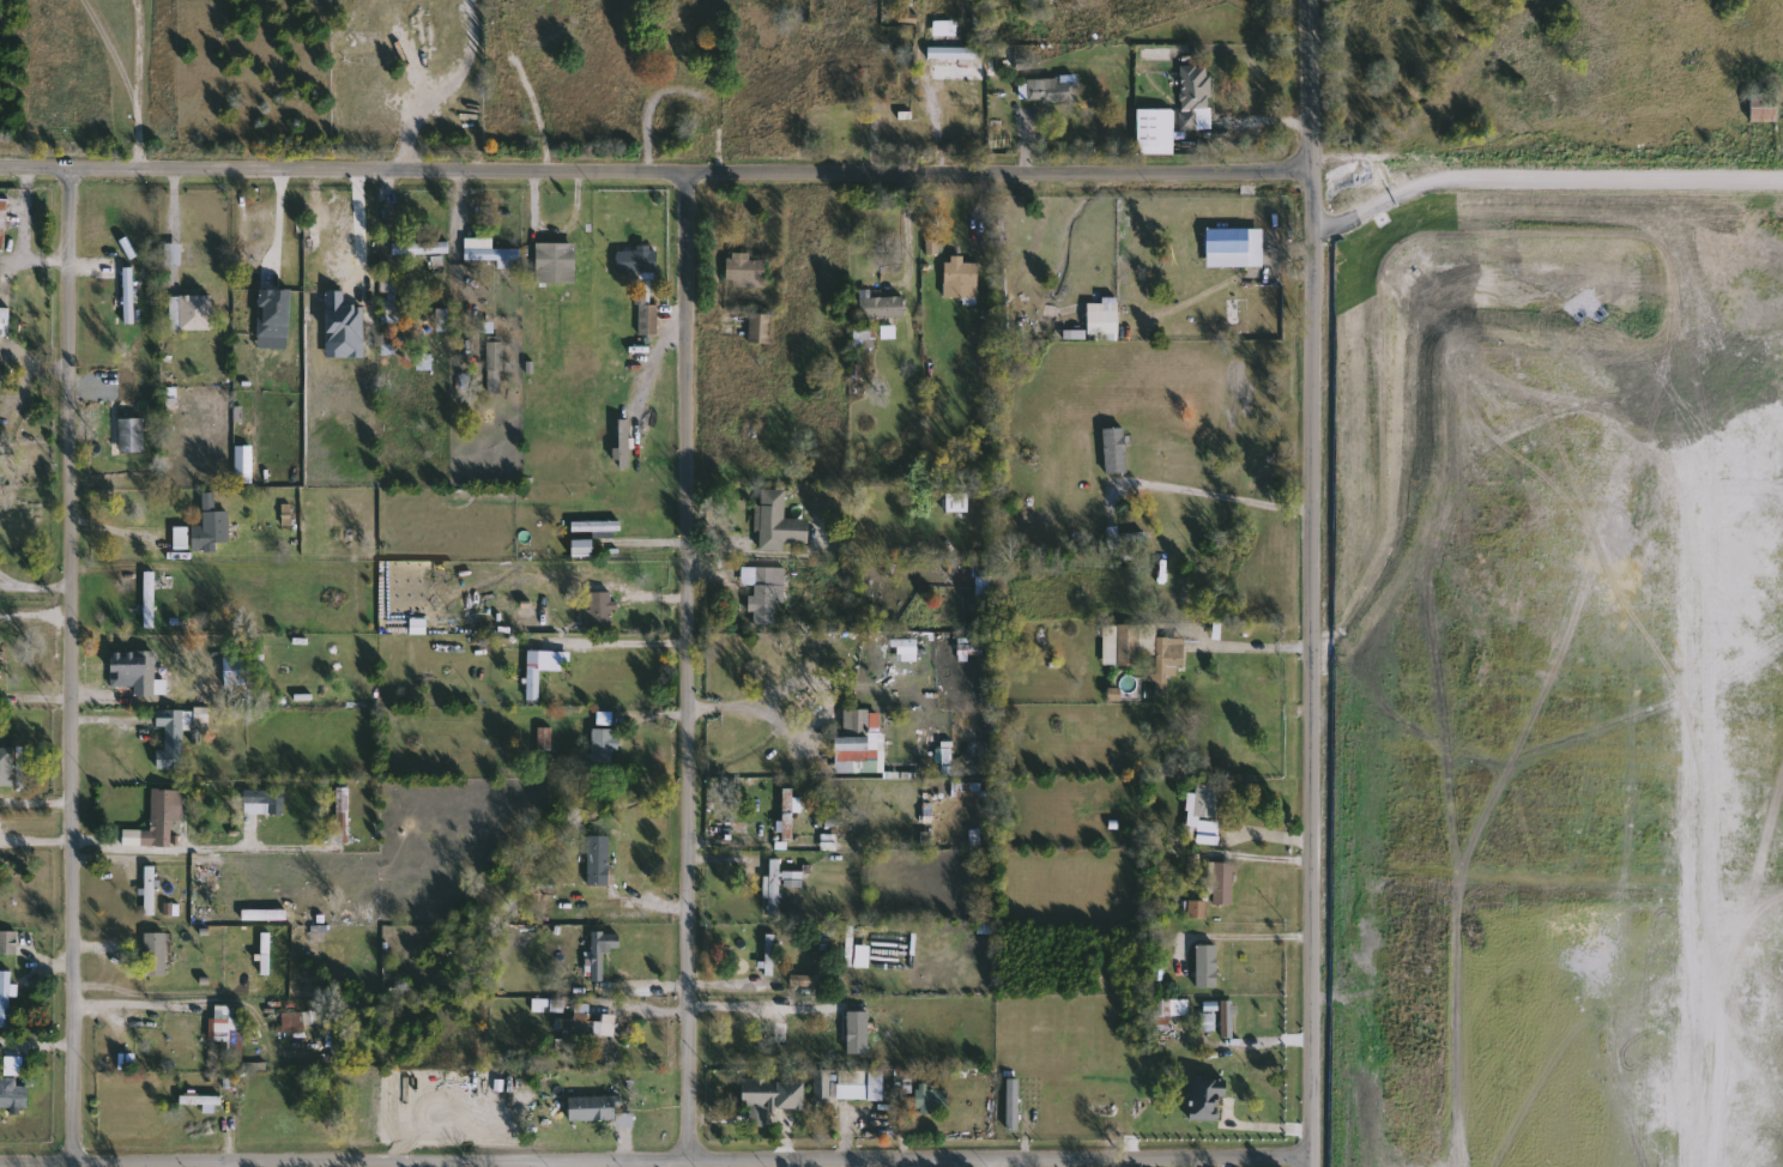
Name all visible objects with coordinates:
building: (685, 29)
building: (947, 29)
building: (545, 32)
building: (957, 54)
building: (889, 59)
building: (852, 80)
road: (428, 83)
building: (1052, 91)
building: (1196, 97)
building: (1765, 107)
road: (1269, 123)
building: (1154, 129)
road: (654, 168)
road: (1543, 175)
road: (393, 196)
road: (244, 210)
road: (24, 211)
road: (1256, 213)
road: (357, 224)
building: (4, 225)
road: (552, 226)
road: (905, 230)
road: (717, 244)
building: (1217, 244)
building: (422, 248)
building: (490, 250)
road: (984, 254)
building: (192, 256)
building: (272, 259)
building: (349, 259)
building: (639, 261)
building: (557, 264)
building: (745, 271)
building: (961, 279)
road: (1229, 280)
building: (129, 296)
building: (882, 308)
building: (394, 312)
building: (649, 319)
building: (4, 320)
building: (339, 322)
building: (1104, 322)
building: (443, 327)
building: (761, 328)
building: (496, 365)
road: (36, 369)
building: (133, 435)
building: (623, 448)
building: (1116, 451)
road: (1217, 500)
building: (959, 502)
building: (778, 524)
building: (597, 527)
building: (205, 530)
road: (117, 534)
building: (581, 549)
road: (768, 557)
road: (135, 568)
road: (1307, 582)
road: (34, 587)
building: (986, 587)
building: (766, 592)
building: (145, 599)
building: (151, 600)
building: (602, 611)
building: (1140, 646)
road: (1251, 649)
road: (630, 651)
road: (691, 663)
road: (67, 664)
building: (1, 670)
building: (135, 671)
building: (534, 676)
road: (129, 696)
road: (735, 713)
road: (114, 727)
building: (173, 739)
building: (859, 743)
building: (603, 752)
building: (265, 802)
road: (35, 804)
building: (1205, 814)
building: (343, 815)
building: (161, 816)
road: (1275, 839)
road: (741, 847)
road: (199, 848)
building: (600, 861)
building: (206, 867)
building: (794, 879)
building: (1223, 883)
building: (776, 887)
building: (152, 890)
building: (551, 901)
building: (1199, 909)
road: (1275, 936)
building: (10, 943)
building: (157, 954)
road: (737, 992)
building: (6, 999)
road: (143, 1003)
building: (1174, 1008)
building: (1219, 1017)
building: (307, 1018)
building: (230, 1032)
building: (580, 1032)
building: (787, 1040)
road: (1255, 1042)
road: (41, 1048)
building: (854, 1086)
building: (824, 1087)
building: (12, 1094)
building: (1205, 1096)
building: (768, 1099)
building: (932, 1099)
building: (201, 1101)
building: (1015, 1105)
building: (593, 1109)
road: (1276, 1121)
road: (654, 1159)
road: (1226, 1160)
road: (913, 1161)
road: (993, 1161)
road: (700, 1162)
road: (723, 1162)
road: (788, 1162)
road: (853, 1162)
road: (405, 1163)
road: (451, 1163)
road: (549, 1163)
road: (647, 1163)
road: (230, 1165)
road: (6, 1166)
road: (46, 1166)

